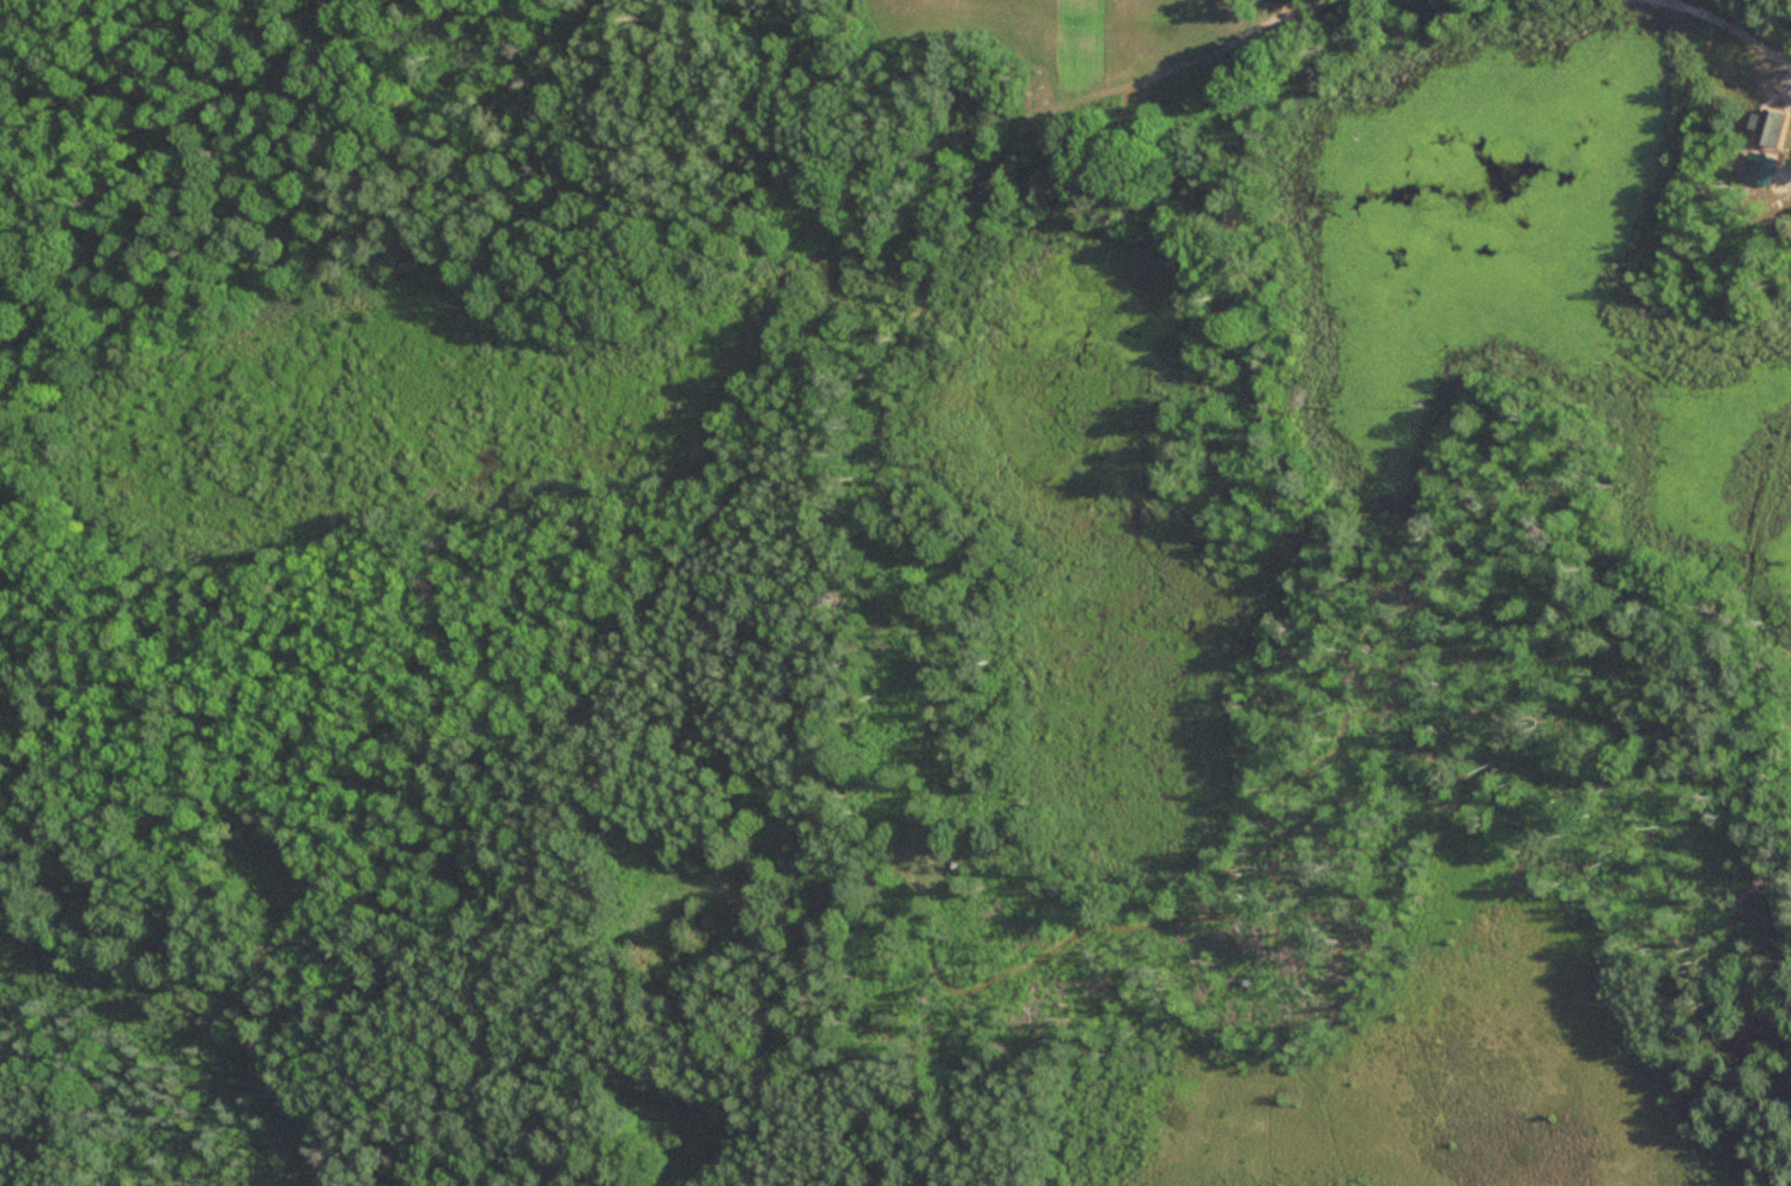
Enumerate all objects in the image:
building: (1719, 77)
building: (1767, 128)

